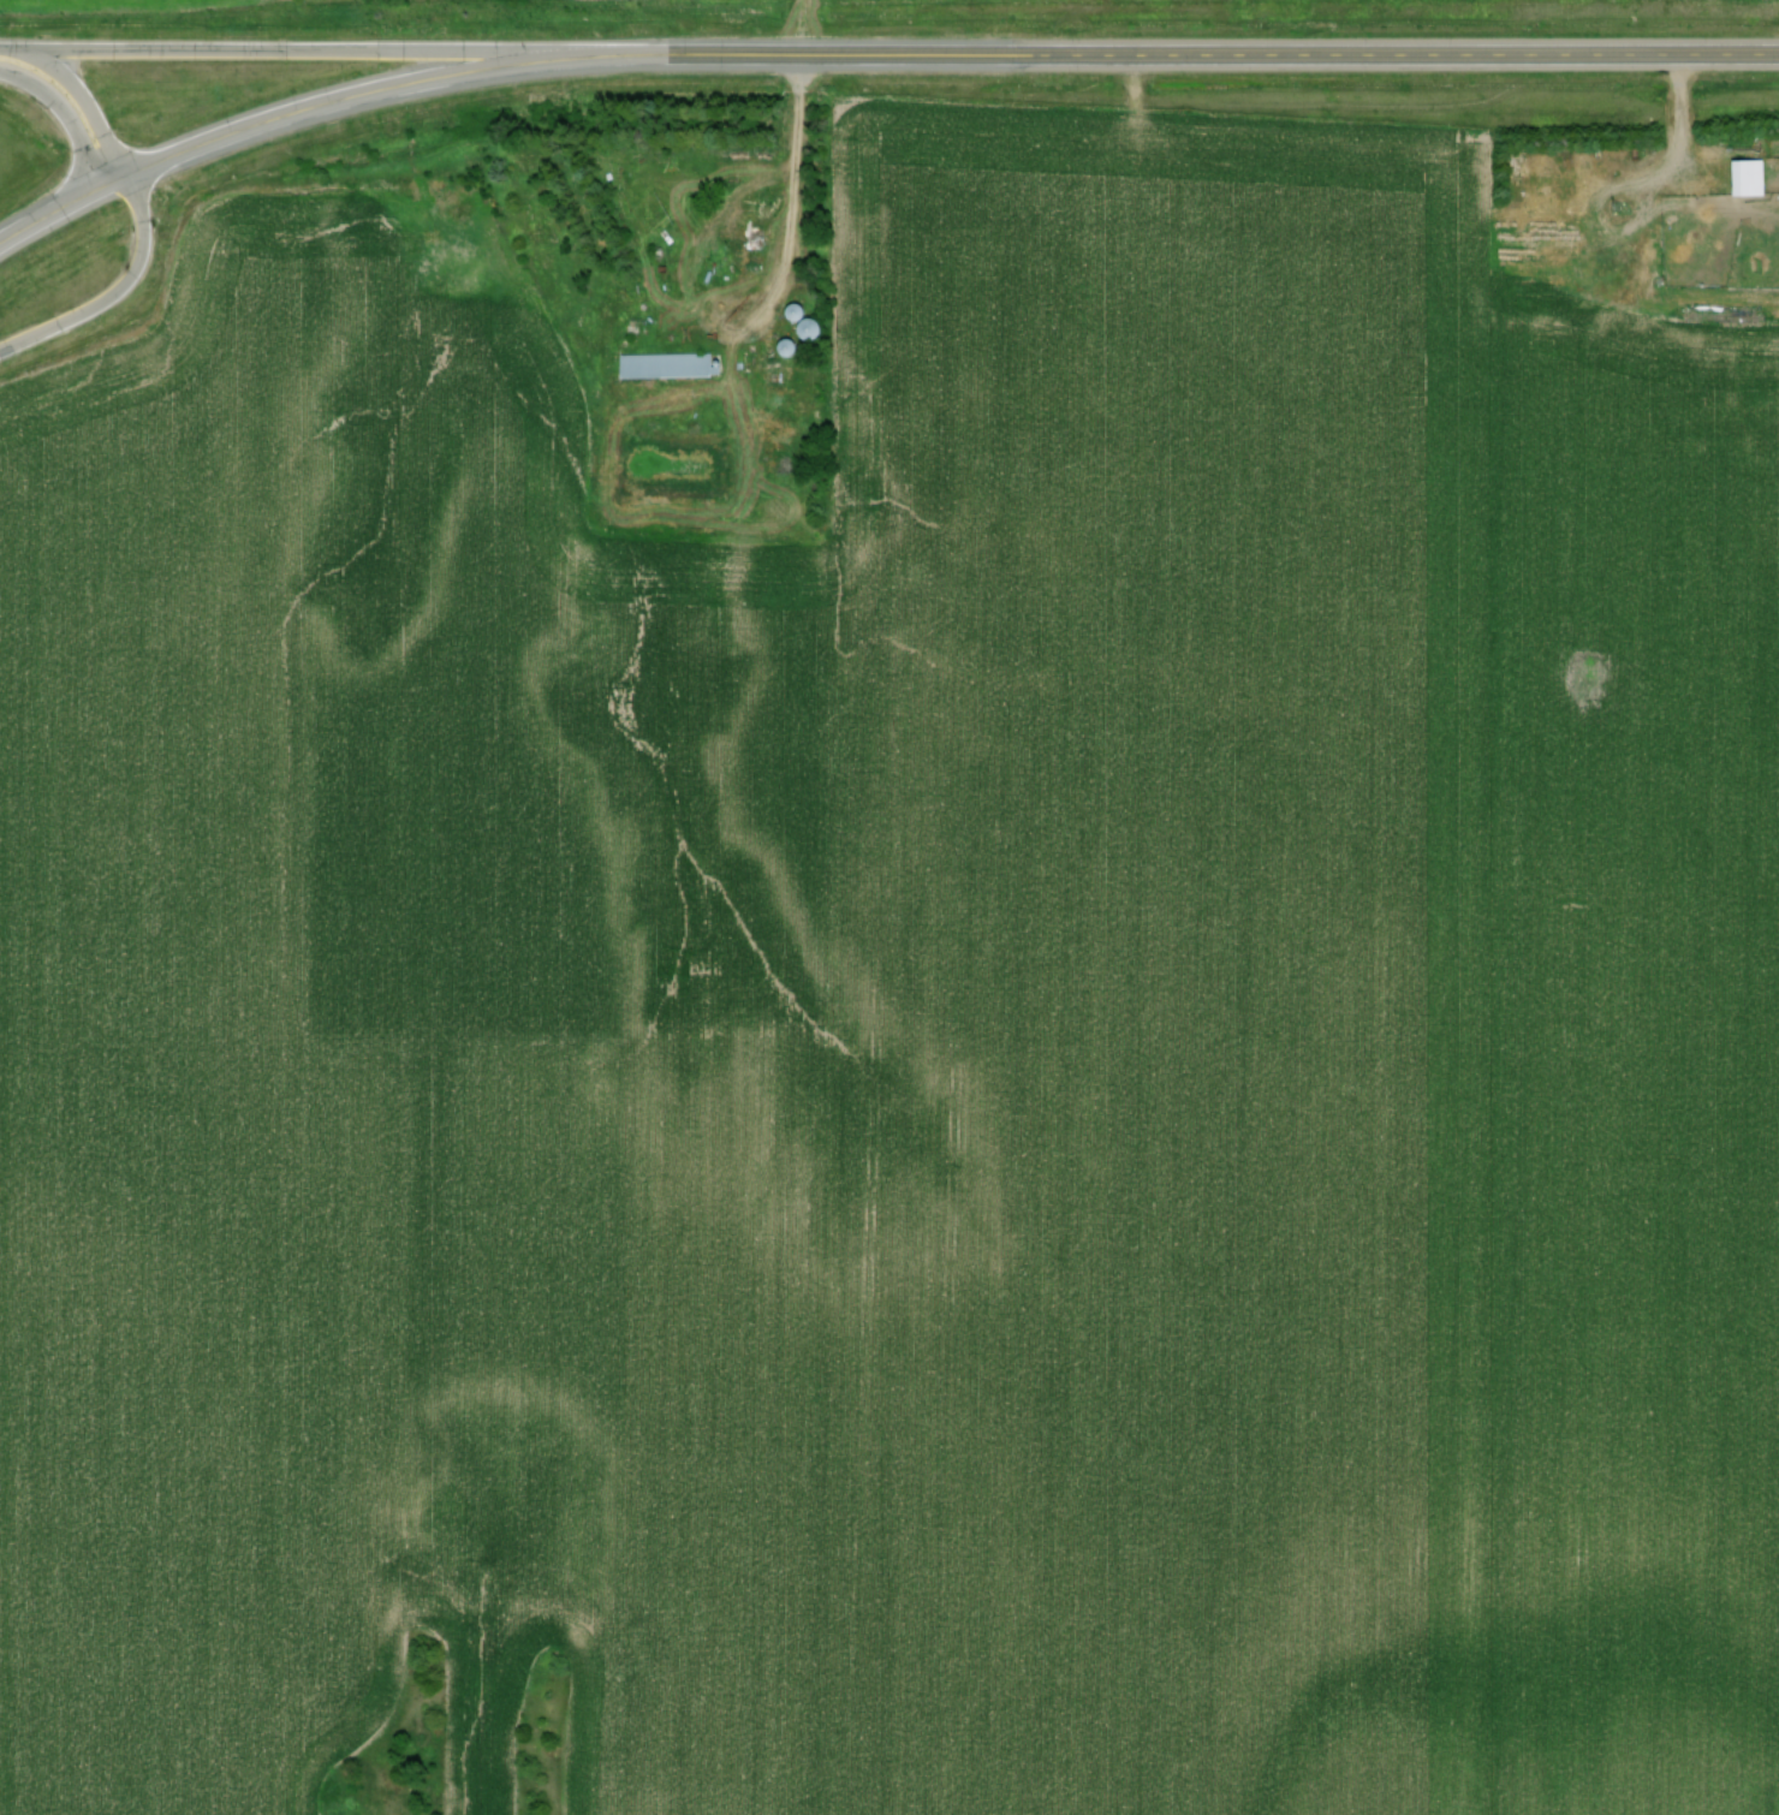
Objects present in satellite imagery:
road: (327, 47)
road: (942, 52)
road: (81, 88)
road: (67, 108)
road: (1684, 148)
building: (664, 156)
building: (1753, 175)
road: (115, 177)
road: (52, 209)
road: (791, 214)
road: (117, 288)
building: (797, 313)
building: (811, 329)
building: (671, 364)

